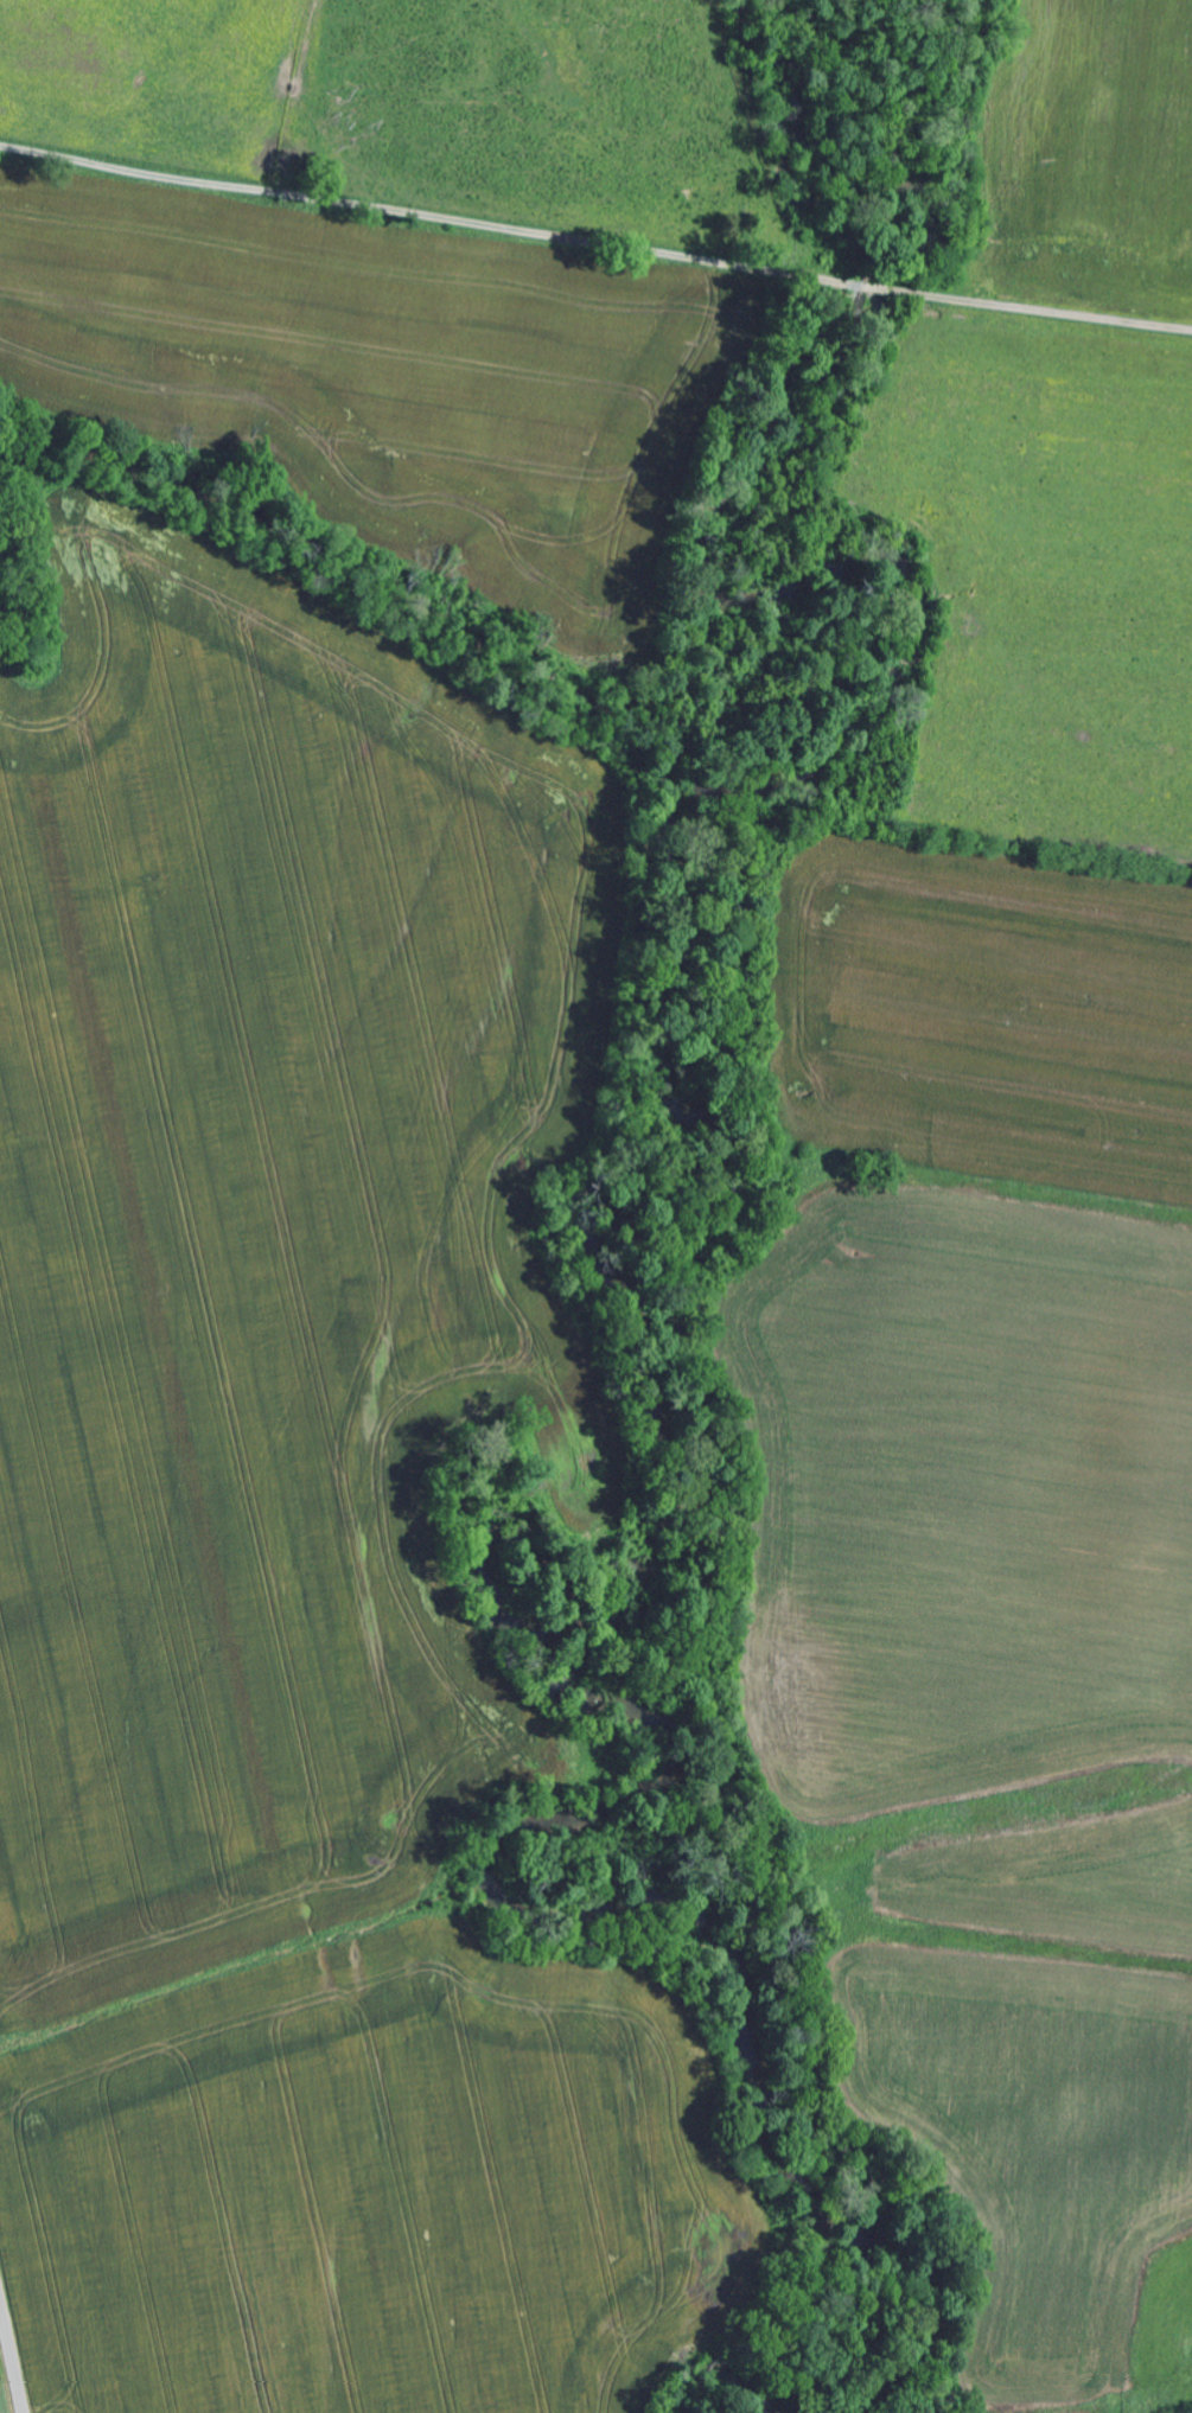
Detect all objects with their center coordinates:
road: (594, 244)
river: (637, 1737)
road: (9, 2363)

